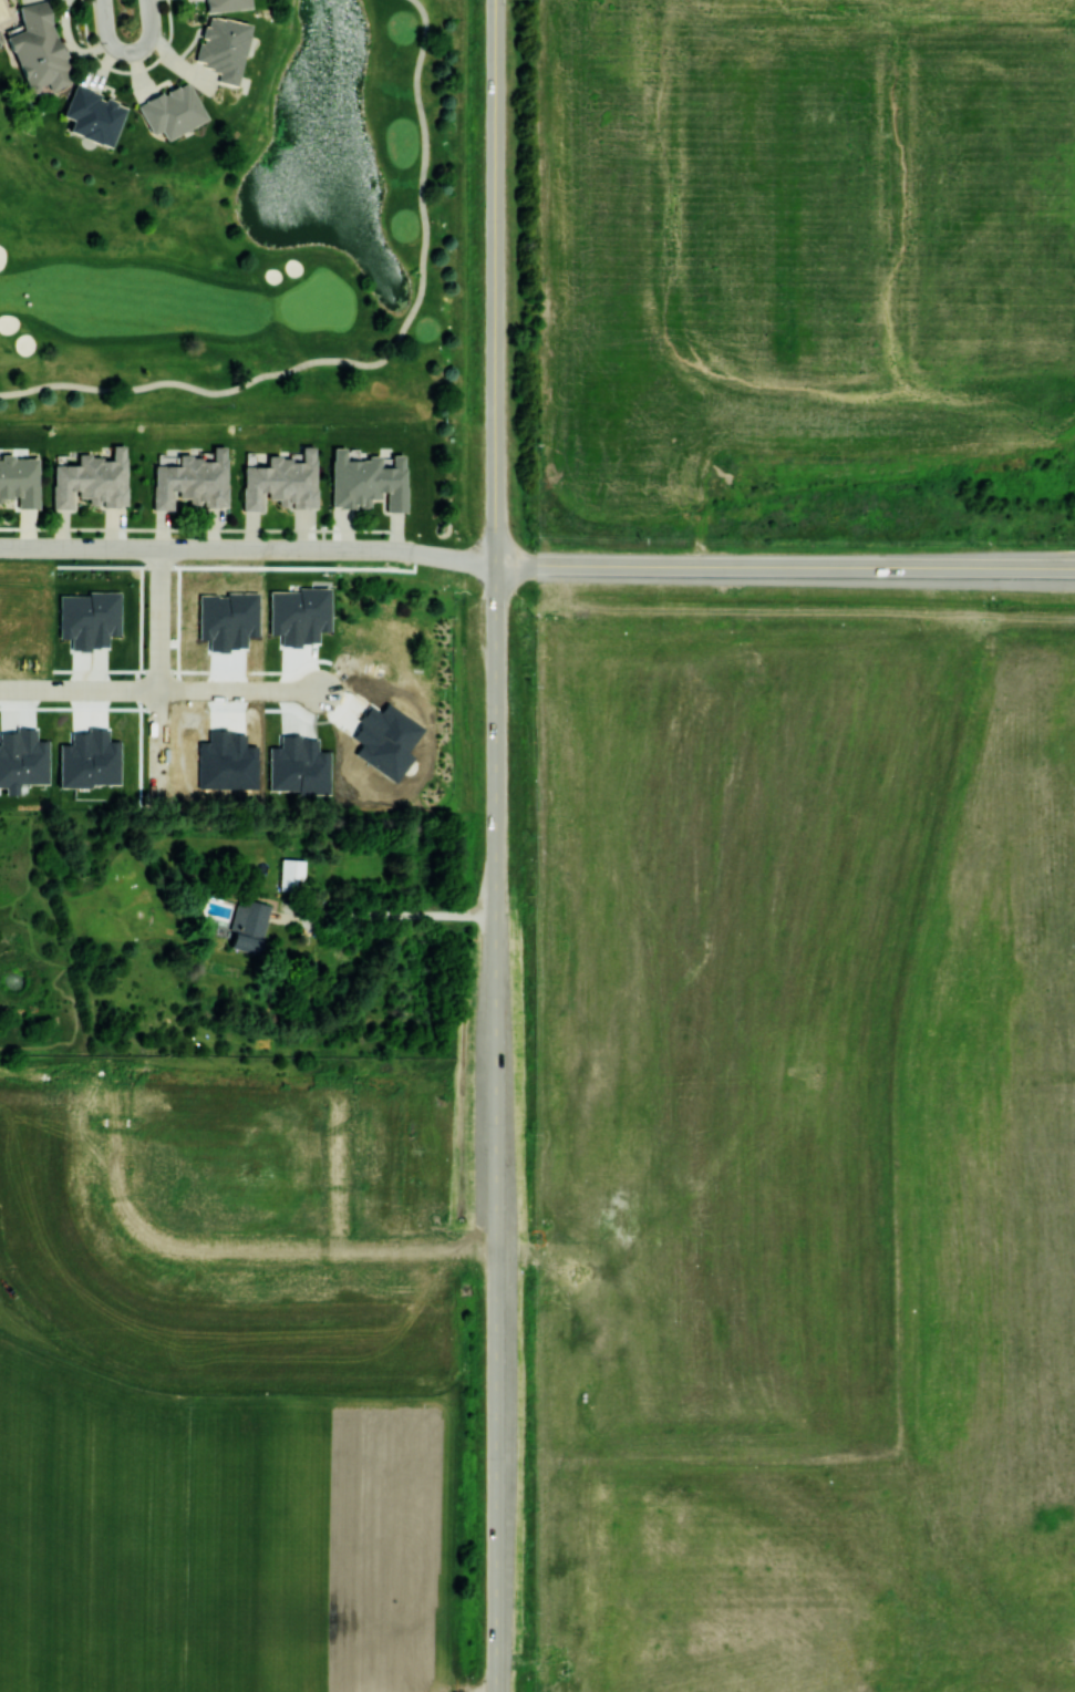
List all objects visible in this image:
road: (124, 4)
building: (227, 4)
road: (843, 32)
road: (1029, 33)
road: (1055, 33)
building: (223, 47)
building: (38, 49)
park: (134, 74)
building: (172, 110)
building: (93, 114)
road: (836, 164)
road: (1013, 165)
road: (1022, 165)
road: (1029, 165)
road: (1055, 165)
park: (496, 166)
road: (665, 180)
park: (286, 255)
road: (496, 281)
road: (374, 362)
road: (845, 390)
road: (1013, 390)
road: (1047, 390)
building: (20, 478)
road: (984, 478)
building: (91, 479)
building: (193, 479)
building: (282, 481)
building: (368, 481)
road: (199, 528)
road: (214, 549)
road: (446, 557)
road: (480, 563)
road: (107, 565)
road: (785, 566)
building: (299, 613)
road: (141, 617)
building: (90, 618)
road: (132, 669)
road: (161, 669)
road: (136, 679)
road: (497, 687)
road: (80, 689)
road: (241, 689)
building: (21, 759)
building: (90, 759)
building: (291, 873)
road: (385, 914)
building: (248, 925)
road: (497, 936)
road: (117, 1158)
road: (340, 1163)
road: (318, 1247)
road: (497, 1376)

